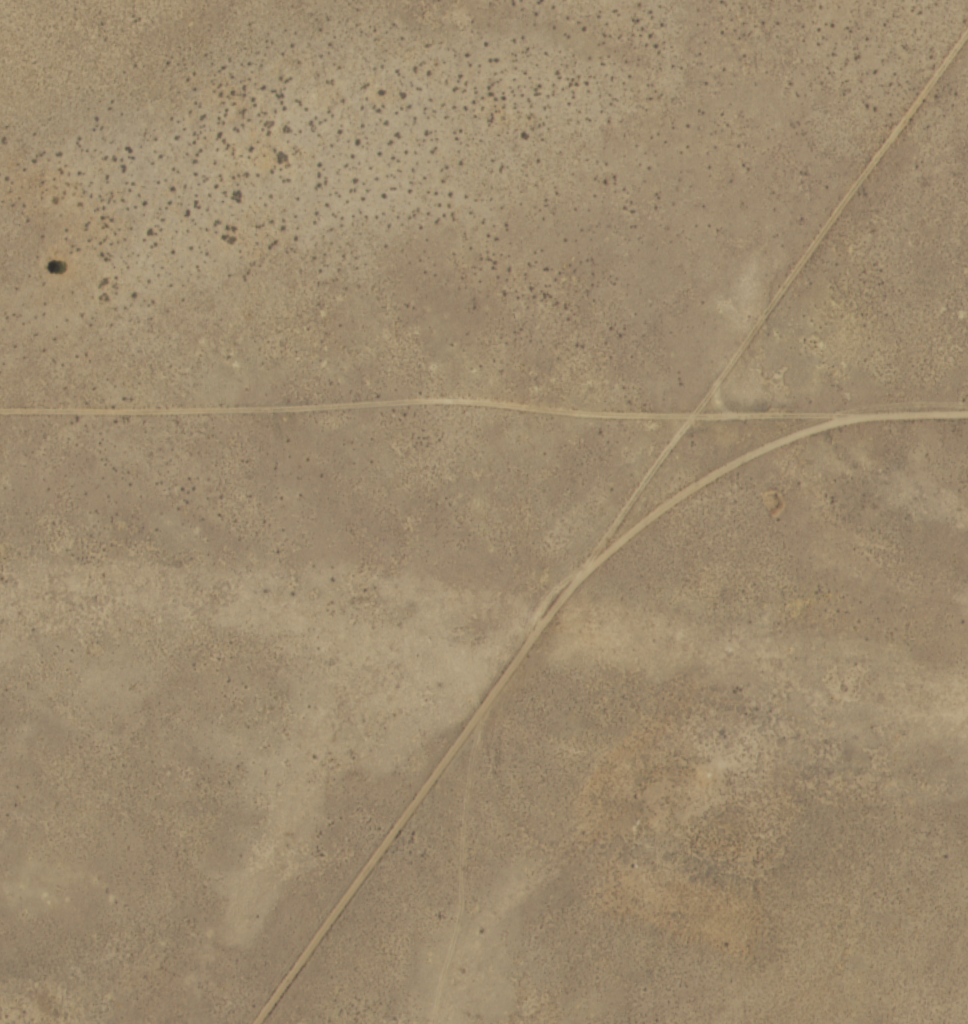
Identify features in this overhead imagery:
road: (485, 529)

